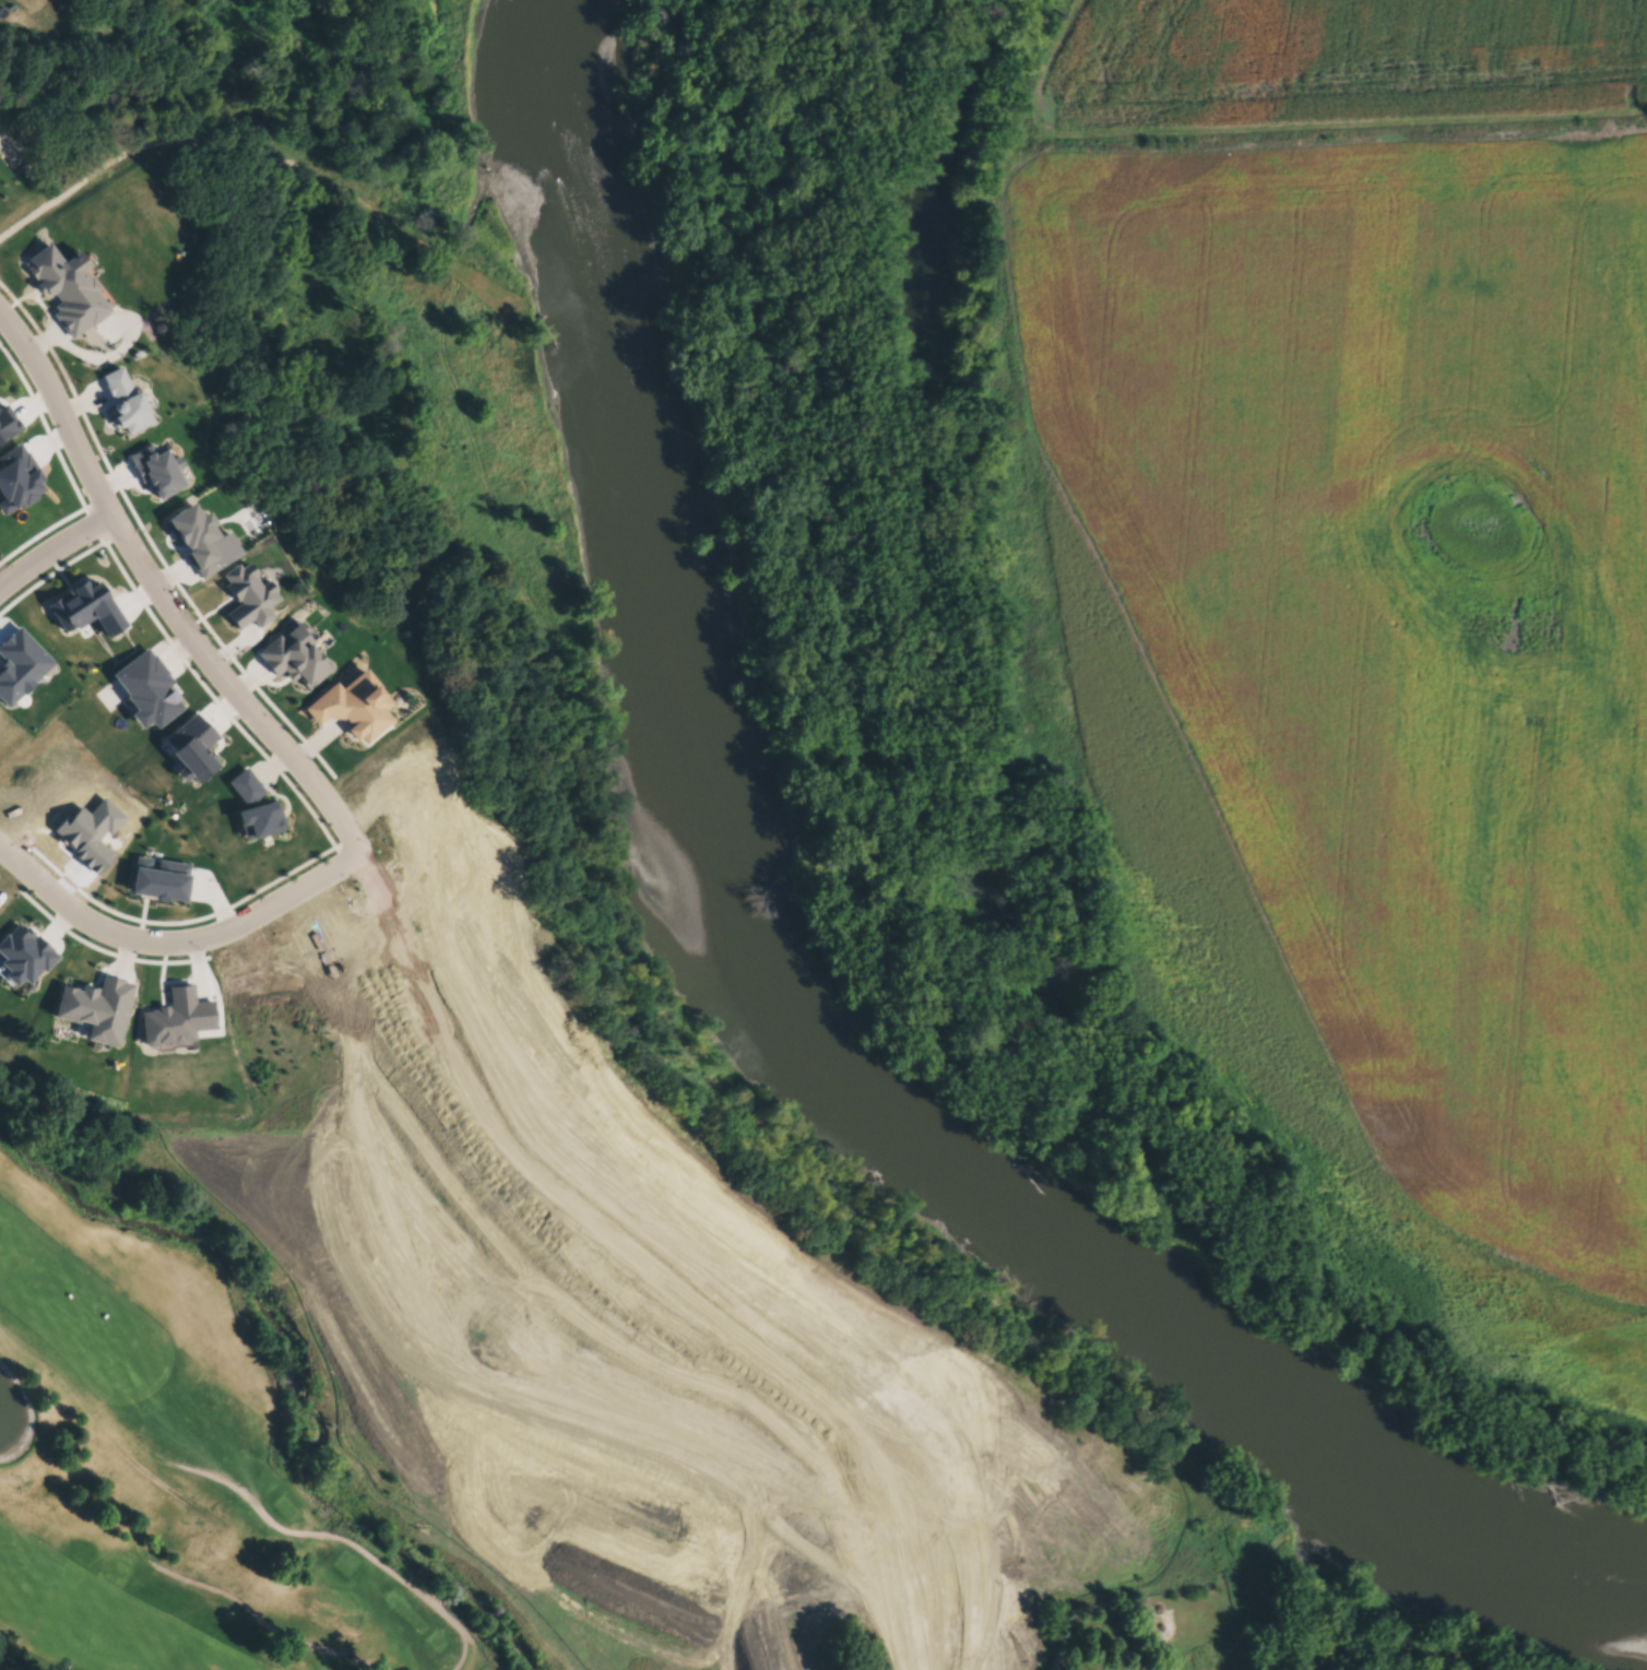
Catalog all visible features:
building: (68, 287)
building: (126, 403)
building: (8, 424)
building: (158, 470)
building: (17, 478)
building: (204, 541)
road: (52, 557)
building: (250, 597)
building: (85, 609)
road: (182, 625)
building: (295, 656)
building: (19, 665)
building: (147, 690)
building: (355, 708)
building: (191, 749)
building: (256, 808)
building: (88, 833)
building: (161, 881)
road: (179, 941)
building: (24, 957)
building: (97, 1010)
building: (177, 1021)
river: (781, 1022)
building: (453, 1189)
building: (914, 1364)
park: (178, 1471)

